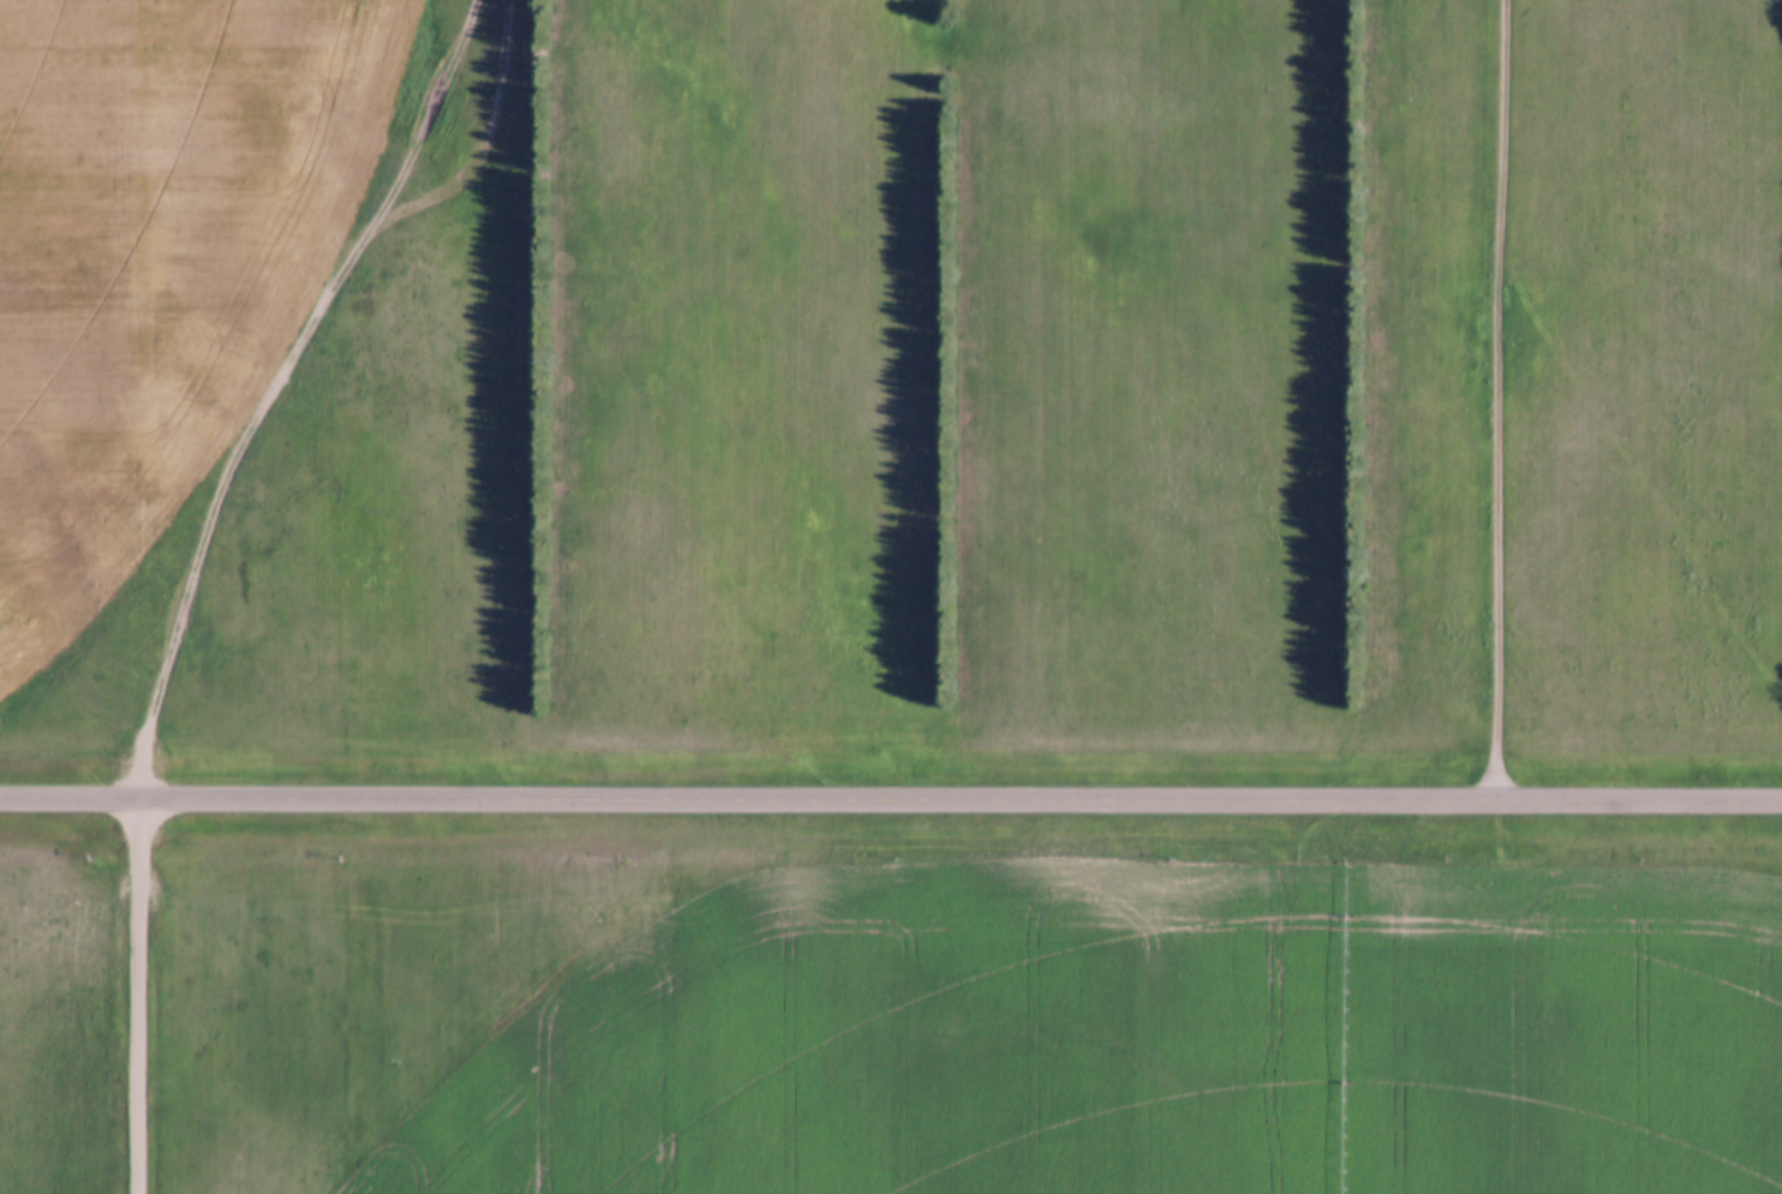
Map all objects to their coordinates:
road: (1496, 399)
road: (890, 798)
road: (136, 995)

